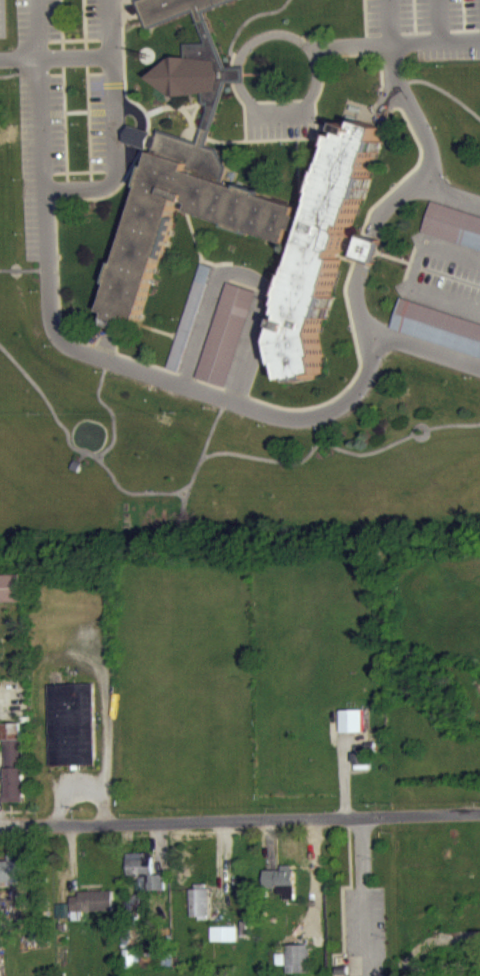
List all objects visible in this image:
road: (390, 27)
road: (37, 33)
road: (106, 33)
road: (286, 48)
road: (393, 54)
road: (54, 66)
road: (237, 77)
road: (273, 118)
road: (115, 165)
road: (450, 194)
building: (240, 201)
building: (453, 227)
building: (189, 328)
building: (437, 329)
building: (224, 345)
road: (422, 350)
road: (253, 407)
building: (11, 598)
building: (353, 731)
building: (71, 735)
building: (364, 764)
building: (14, 773)
road: (240, 828)
building: (144, 882)
building: (280, 891)
road: (360, 901)
building: (92, 912)
building: (199, 914)
building: (223, 944)
road: (440, 950)
building: (297, 965)
building: (130, 967)

